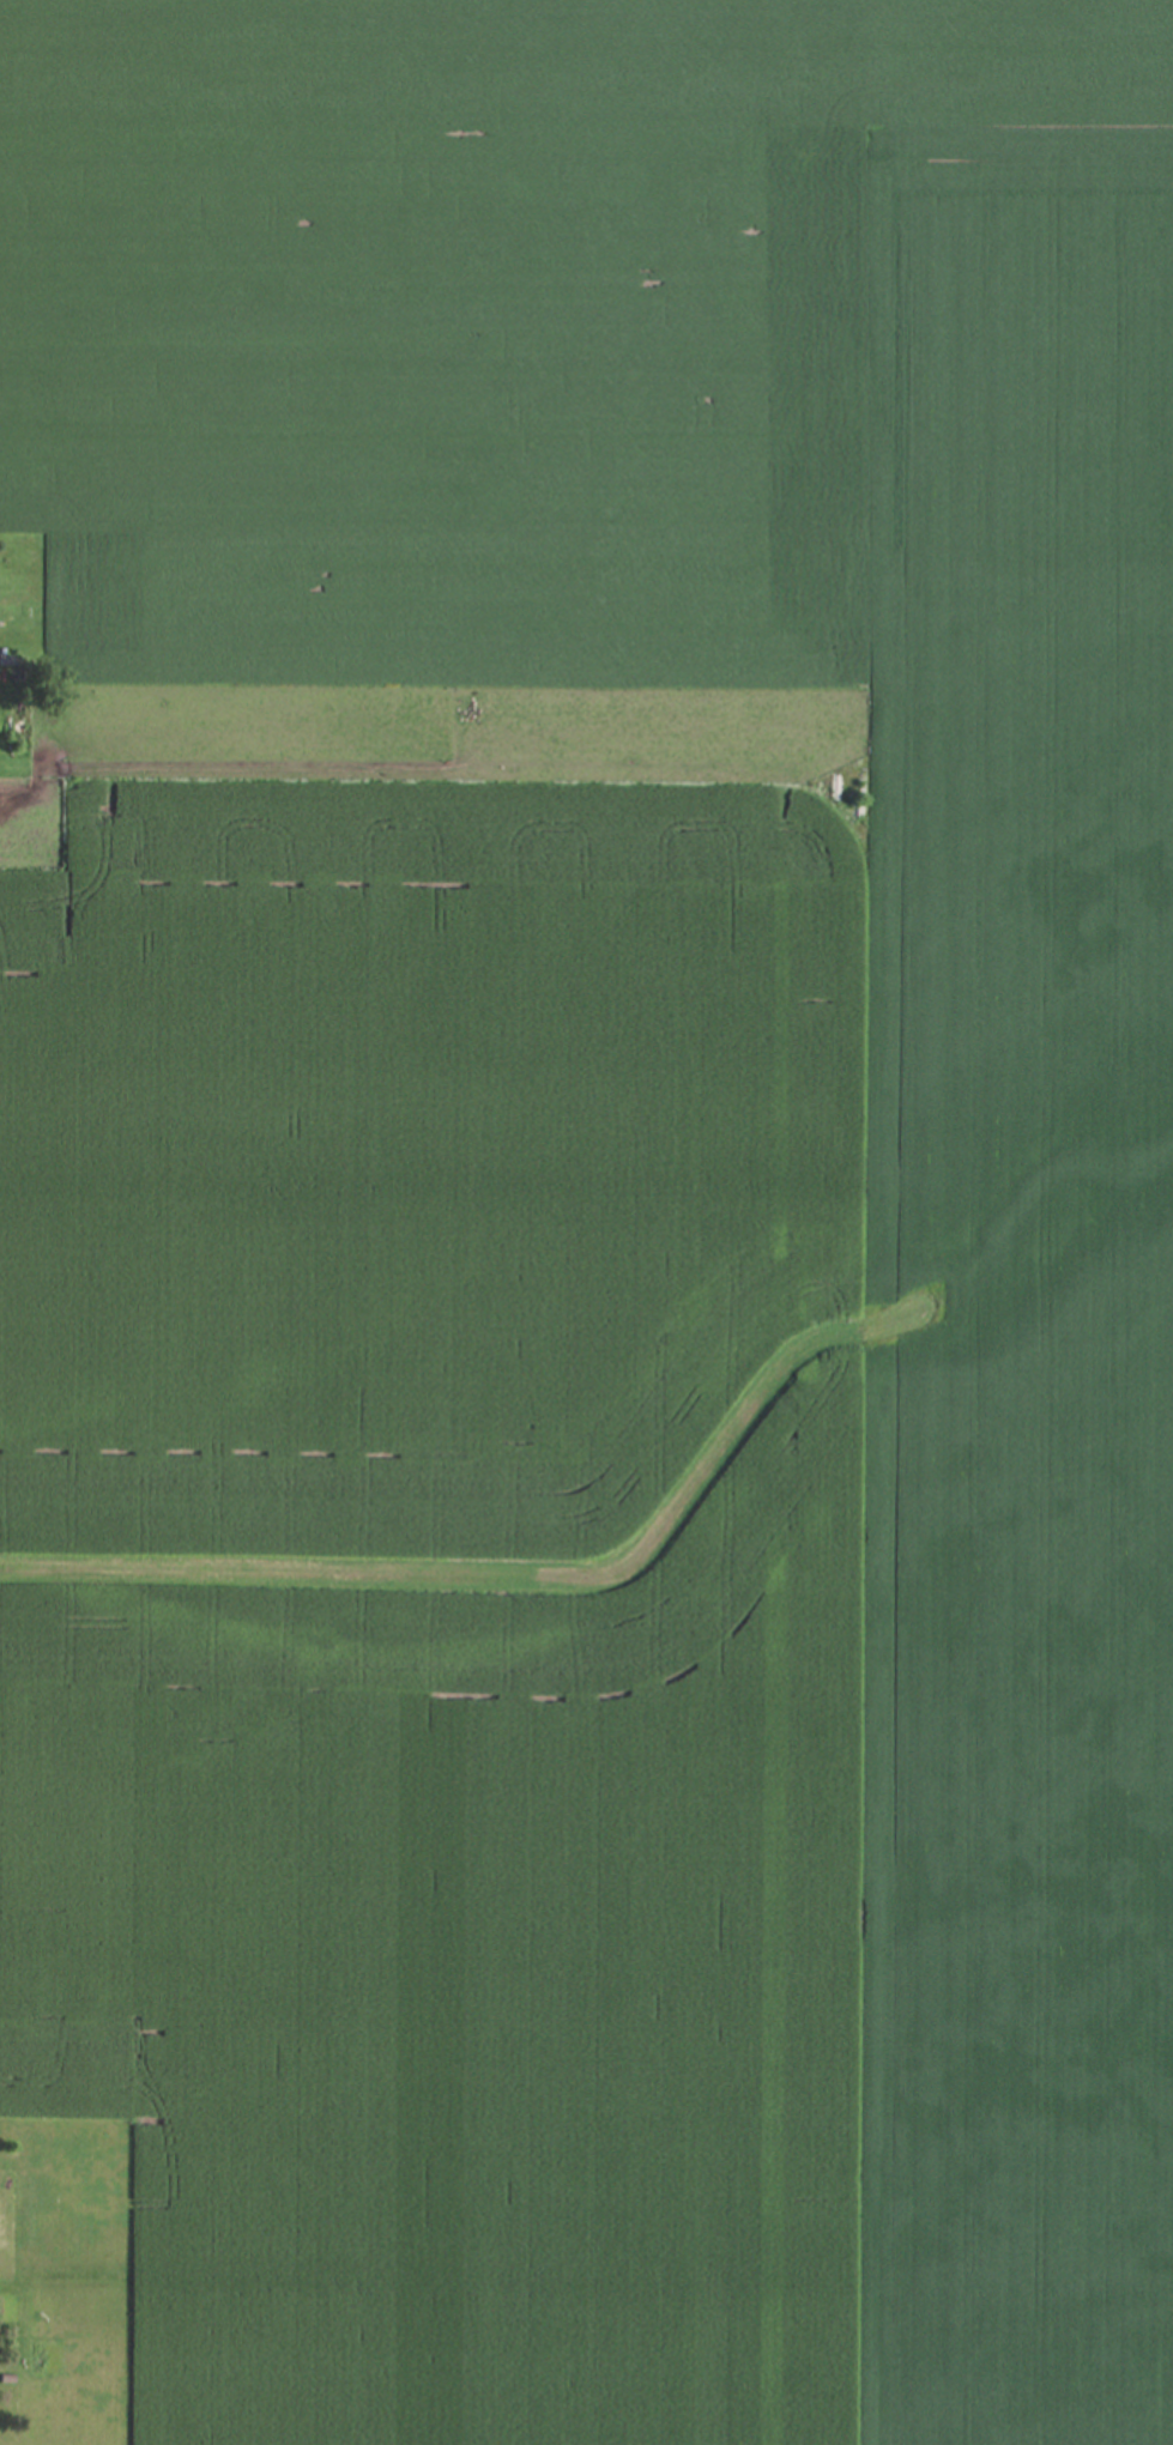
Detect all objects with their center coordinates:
crop: (471, 356)
crop: (1014, 1290)
crop: (428, 1338)
crop: (462, 2169)

